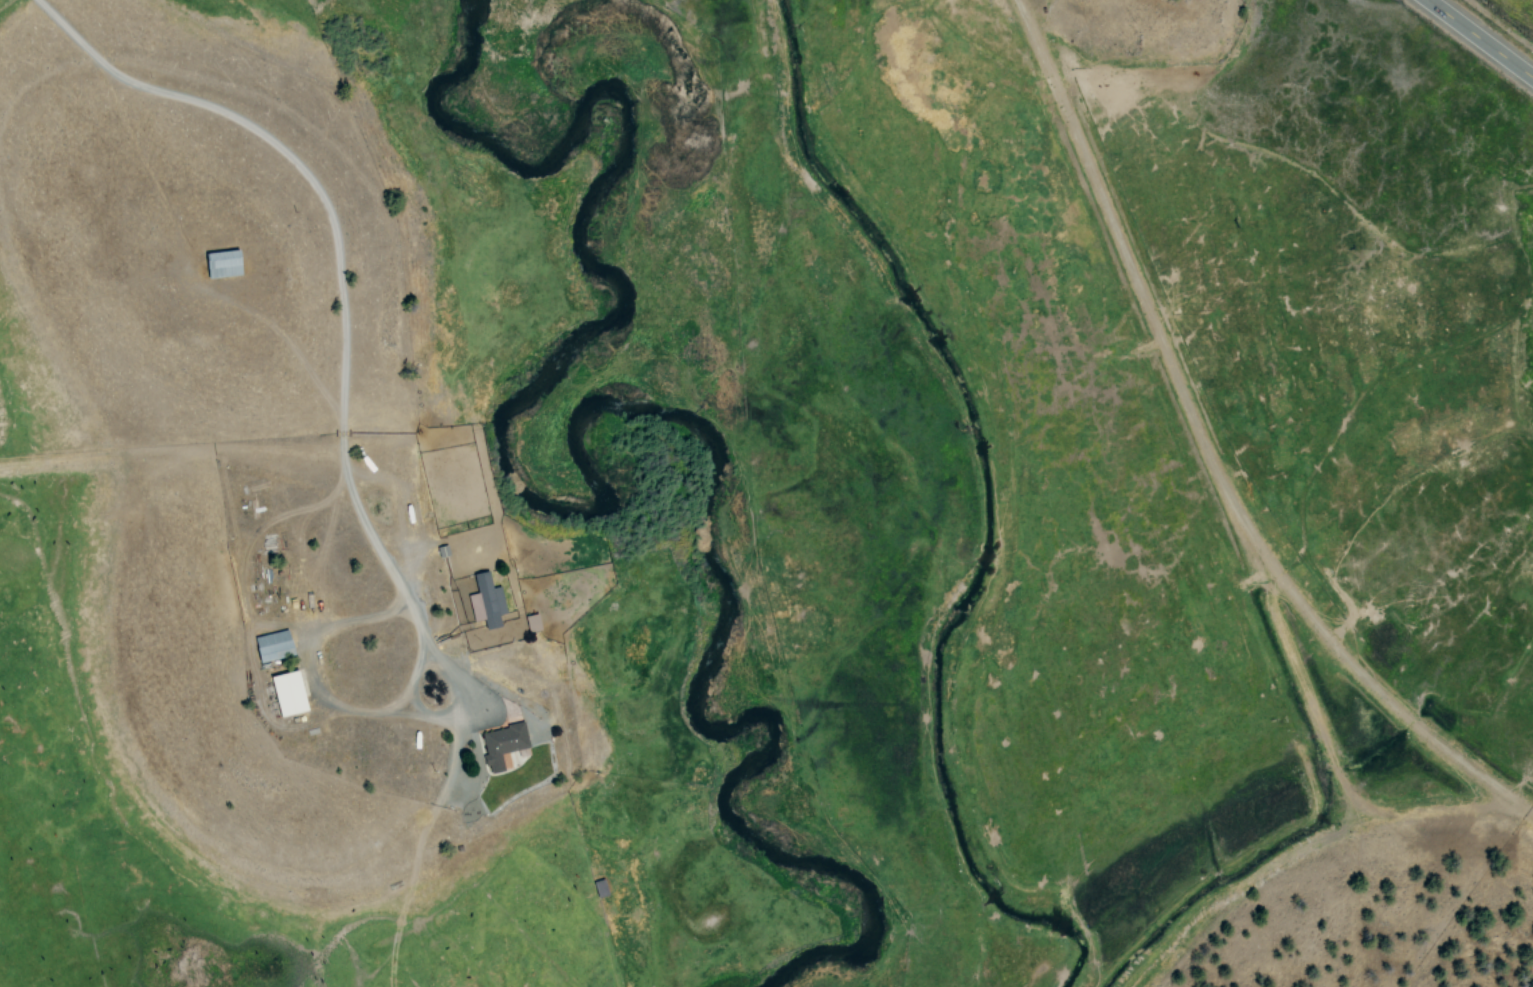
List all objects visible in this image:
road: (1478, 39)
road: (333, 256)
building: (223, 263)
river: (572, 453)
road: (1206, 454)
building: (486, 601)
building: (274, 645)
road: (1289, 675)
building: (288, 692)
building: (503, 743)

